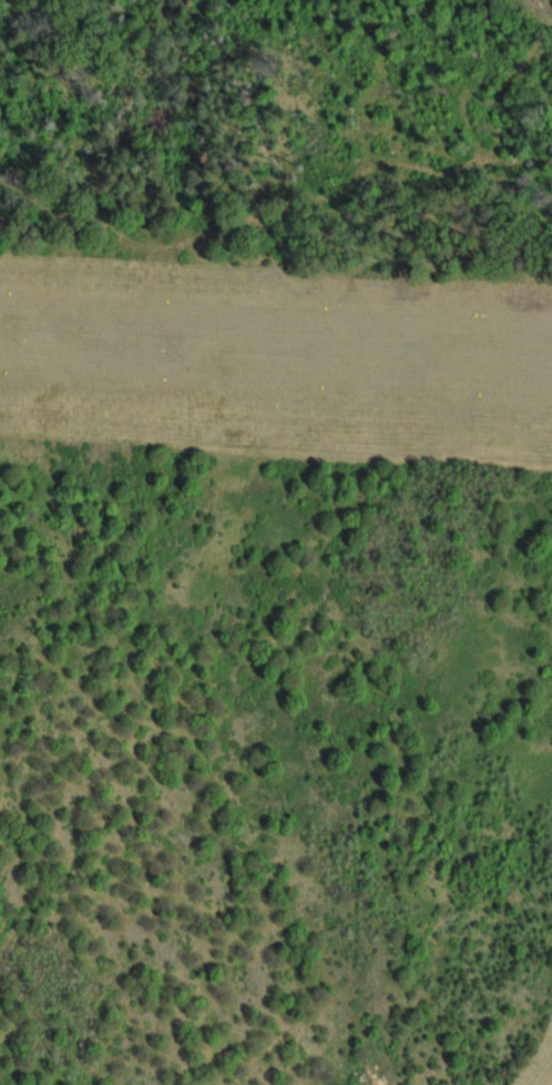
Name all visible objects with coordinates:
airport: (276, 357)
airport: (539, 1072)

